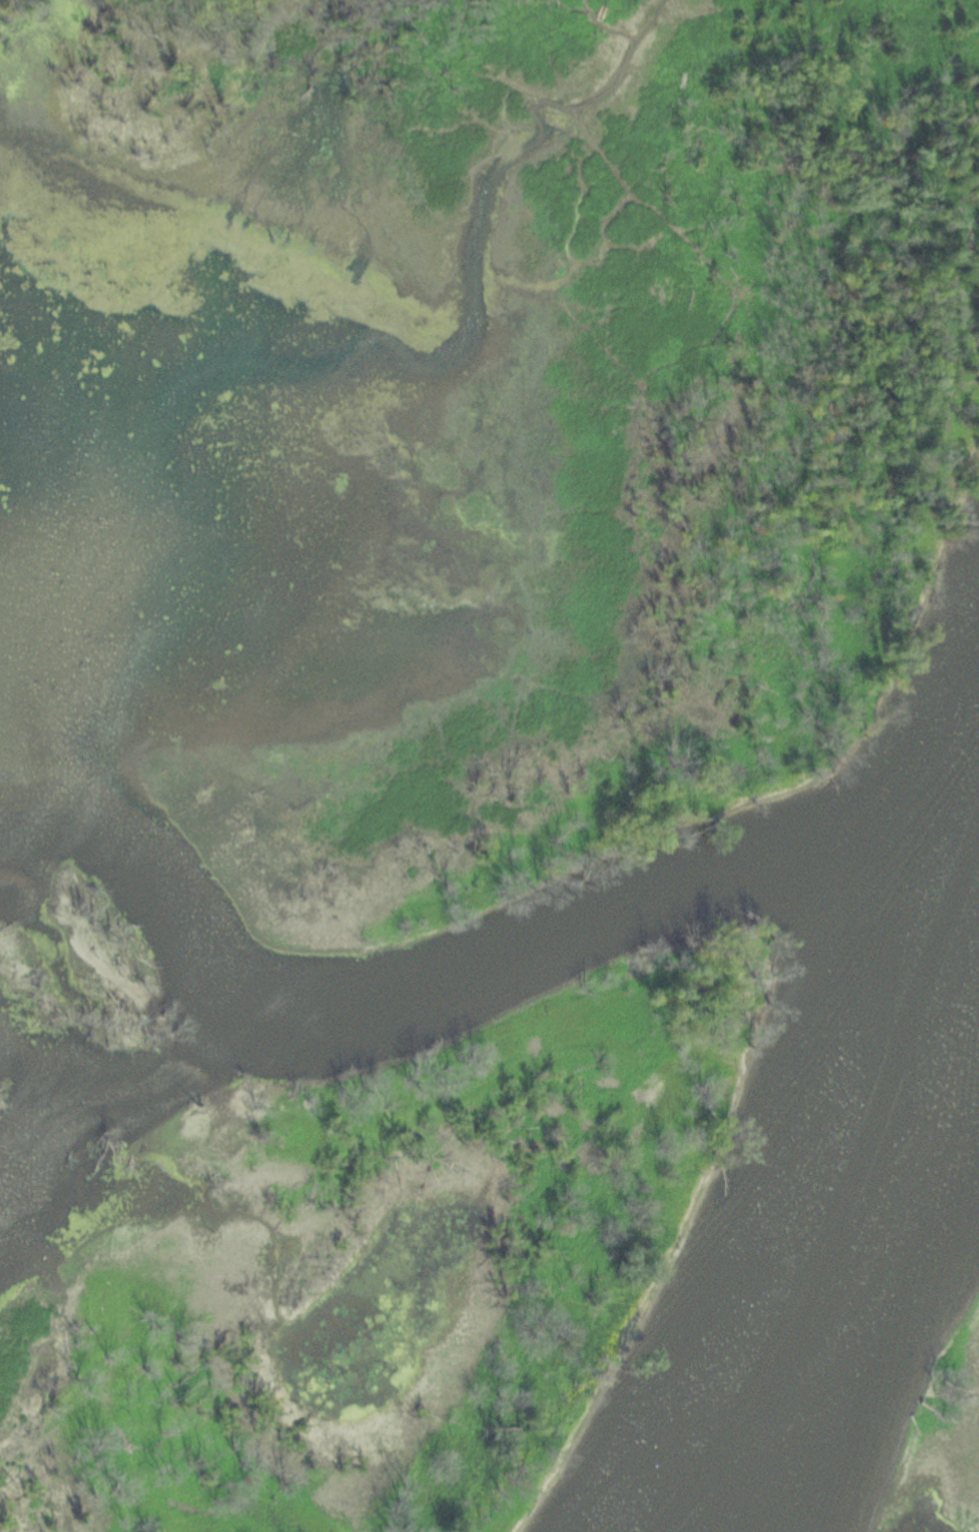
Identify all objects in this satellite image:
river: (845, 1266)

